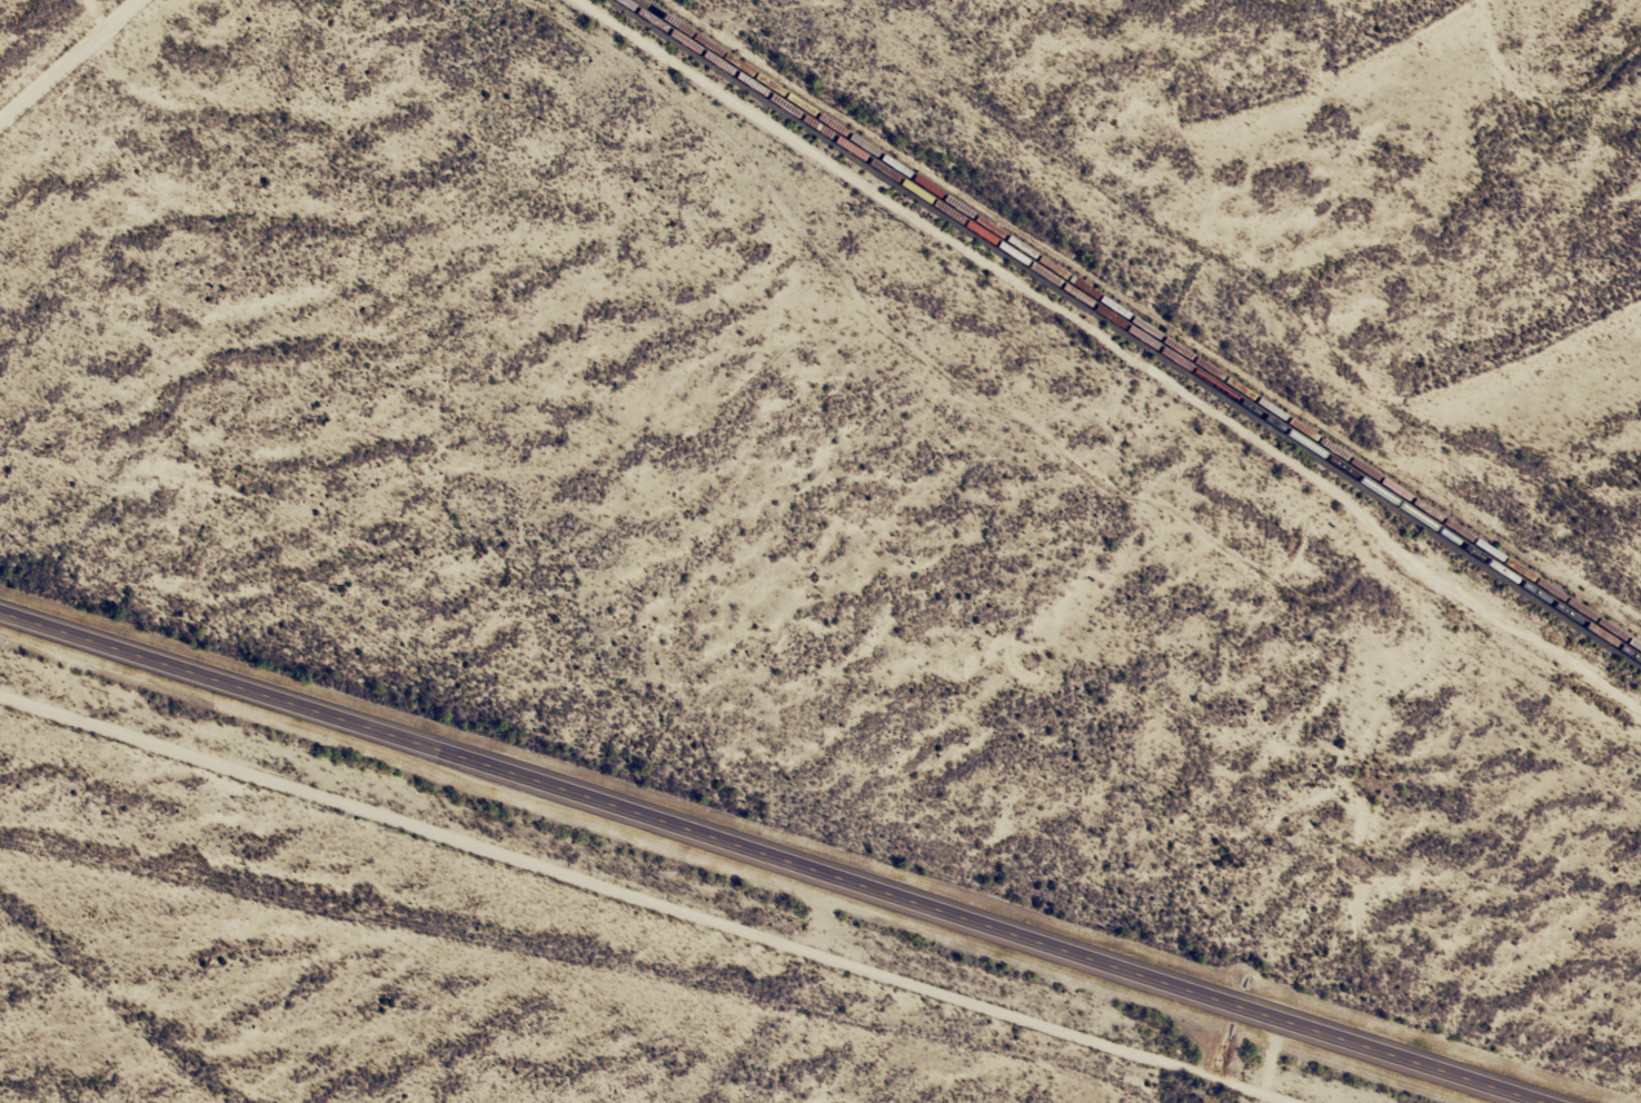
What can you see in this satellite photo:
road: (96, 17)
road: (72, 61)
railway: (1137, 327)
railway: (1130, 335)
road: (779, 853)
road: (517, 977)

